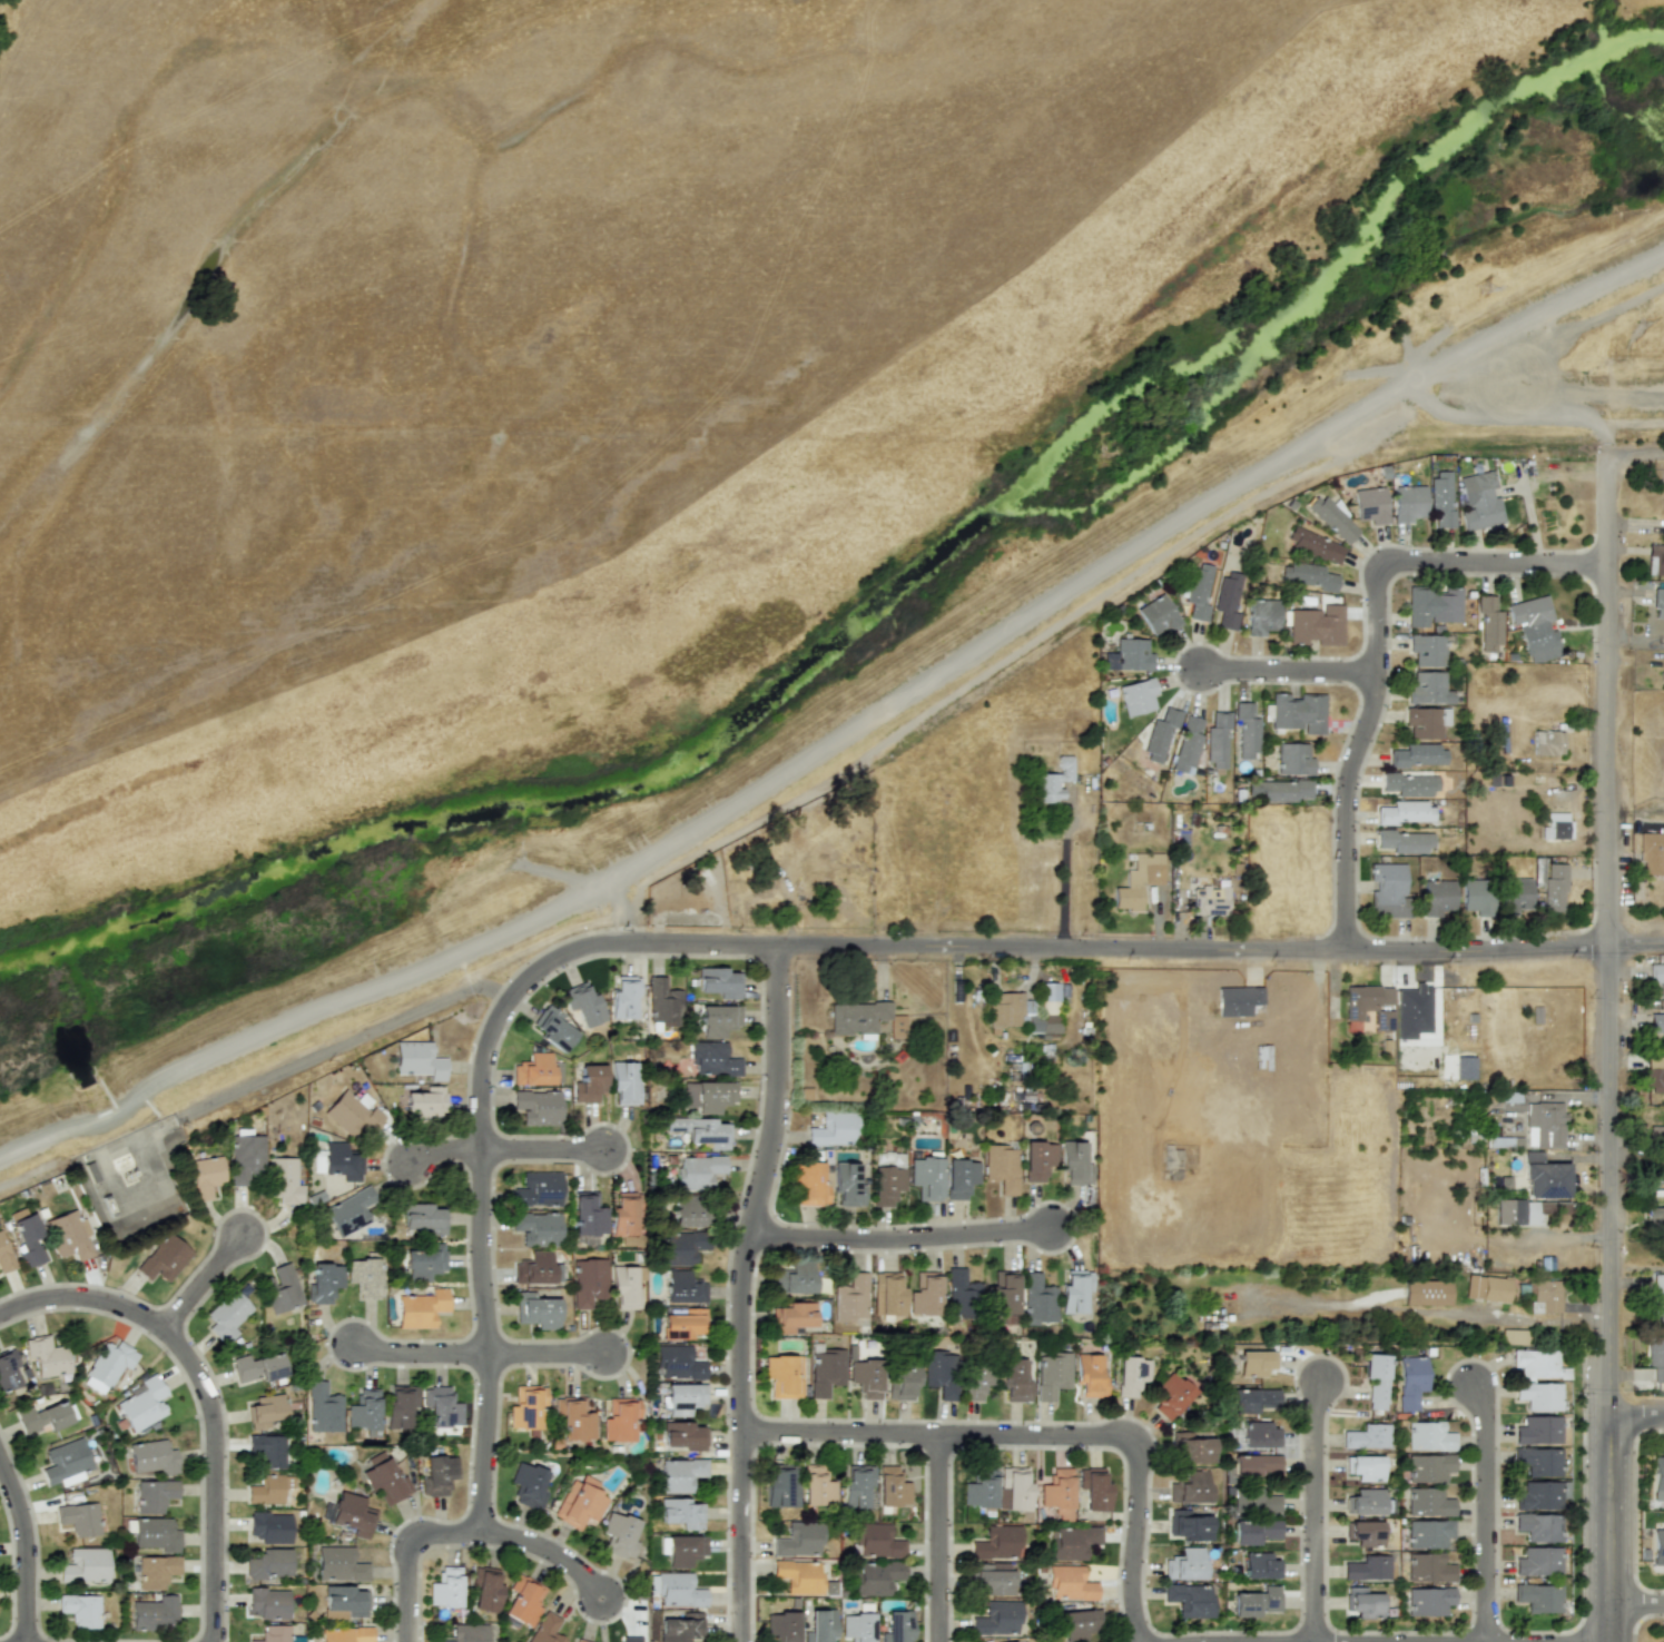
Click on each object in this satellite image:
crop: (1628, 201)
power tower: (1484, 288)
road: (1512, 415)
road: (1636, 448)
building: (1440, 499)
building: (1478, 502)
building: (1408, 503)
building: (1371, 505)
road: (1608, 505)
building: (1332, 518)
building: (1315, 544)
building: (1655, 560)
building: (1308, 576)
building: (1199, 592)
building: (1228, 600)
building: (1658, 603)
building: (1432, 606)
building: (1158, 614)
building: (1262, 616)
building: (1489, 624)
building: (1317, 625)
building: (1534, 627)
building: (1663, 635)
road: (1377, 642)
building: (1426, 650)
building: (1129, 655)
road: (1288, 672)
building: (1428, 689)
building: (1138, 696)
building: (1296, 712)
building: (1426, 722)
building: (1247, 731)
road: (844, 732)
building: (1160, 734)
building: (1218, 740)
building: (1547, 742)
building: (1188, 745)
building: (1417, 755)
building: (1293, 759)
building: (1132, 777)
building: (1497, 780)
building: (1054, 781)
building: (1409, 784)
building: (1280, 790)
building: (1406, 812)
building: (1556, 825)
building: (1405, 841)
building: (1651, 851)
road: (1062, 873)
building: (1139, 880)
building: (1554, 888)
building: (1388, 890)
building: (1515, 894)
building: (1437, 897)
building: (1476, 897)
building: (1209, 901)
road: (806, 946)
building: (1656, 976)
building: (719, 981)
road: (1605, 988)
building: (626, 998)
building: (1240, 1000)
building: (662, 1002)
building: (583, 1003)
building: (1370, 1005)
building: (1026, 1009)
building: (1412, 1011)
building: (864, 1018)
building: (719, 1020)
building: (1657, 1025)
building: (553, 1028)
building: (1261, 1057)
road: (306, 1059)
building: (713, 1059)
building: (419, 1060)
building: (533, 1070)
building: (1654, 1074)
building: (624, 1082)
building: (589, 1084)
building: (708, 1096)
building: (425, 1104)
building: (538, 1107)
building: (1544, 1125)
building: (833, 1129)
building: (701, 1131)
building: (1656, 1134)
road: (504, 1153)
building: (245, 1157)
building: (1037, 1160)
building: (341, 1161)
building: (1074, 1163)
building: (1001, 1167)
building: (697, 1171)
building: (205, 1176)
building: (925, 1177)
building: (1544, 1177)
building: (959, 1178)
building: (284, 1180)
building: (808, 1183)
building: (847, 1185)
building: (886, 1185)
building: (538, 1189)
building: (689, 1210)
building: (349, 1211)
building: (1519, 1211)
building: (588, 1215)
building: (623, 1215)
building: (1655, 1217)
building: (425, 1218)
building: (538, 1228)
building: (70, 1235)
road: (898, 1239)
building: (29, 1240)
building: (682, 1247)
building: (4, 1255)
building: (164, 1258)
building: (426, 1260)
building: (536, 1269)
building: (365, 1277)
building: (795, 1277)
building: (324, 1282)
building: (589, 1282)
road: (200, 1286)
building: (624, 1287)
building: (683, 1287)
building: (280, 1288)
building: (1487, 1288)
road: (740, 1292)
building: (958, 1292)
building: (1074, 1292)
building: (1426, 1293)
building: (886, 1294)
building: (924, 1294)
building: (1001, 1294)
building: (1545, 1296)
building: (850, 1298)
building: (1036, 1300)
building: (421, 1308)
building: (536, 1310)
building: (227, 1315)
building: (791, 1317)
building: (683, 1324)
building: (1513, 1336)
road: (420, 1355)
building: (47, 1356)
road: (544, 1356)
building: (1655, 1356)
building: (678, 1363)
building: (1254, 1363)
building: (1537, 1364)
building: (108, 1366)
building: (258, 1367)
building: (825, 1369)
building: (8, 1371)
building: (939, 1372)
building: (1052, 1374)
building: (782, 1375)
building: (1090, 1375)
building: (1131, 1375)
building: (866, 1377)
building: (1376, 1379)
building: (1410, 1381)
building: (903, 1382)
building: (975, 1382)
building: (1014, 1382)
road: (204, 1395)
building: (1171, 1395)
building: (1538, 1395)
building: (685, 1398)
building: (1251, 1399)
building: (142, 1404)
building: (401, 1406)
building: (525, 1406)
building: (441, 1407)
building: (323, 1408)
building: (265, 1411)
building: (364, 1411)
road: (1635, 1415)
building: (46, 1416)
building: (573, 1418)
building: (620, 1420)
building: (1538, 1430)
building: (682, 1435)
building: (1259, 1435)
building: (1428, 1436)
road: (1042, 1437)
building: (1366, 1437)
building: (1192, 1447)
building: (267, 1450)
building: (154, 1457)
building: (66, 1461)
building: (1538, 1461)
building: (1256, 1466)
building: (1363, 1467)
building: (1428, 1468)
building: (437, 1474)
building: (679, 1474)
building: (1657, 1477)
building: (385, 1480)
building: (529, 1485)
building: (780, 1486)
building: (816, 1486)
building: (855, 1486)
building: (892, 1486)
building: (1190, 1487)
building: (269, 1488)
building: (979, 1488)
building: (1014, 1488)
building: (1093, 1488)
building: (1057, 1493)
building: (155, 1495)
building: (1539, 1495)
building: (1253, 1501)
building: (1365, 1502)
building: (1427, 1502)
building: (579, 1503)
road: (1313, 1511)
building: (681, 1513)
building: (352, 1514)
road: (1486, 1514)
building: (79, 1519)
building: (1188, 1525)
building: (270, 1526)
building: (1538, 1526)
road: (1607, 1529)
building: (1253, 1531)
building: (1363, 1533)
building: (1428, 1533)
building: (156, 1534)
building: (620, 1535)
road: (937, 1539)
building: (798, 1540)
building: (876, 1541)
building: (1071, 1542)
building: (996, 1543)
building: (1657, 1546)
building: (683, 1550)
road: (406, 1551)
road: (23, 1553)
road: (548, 1553)
building: (1538, 1562)
building: (269, 1563)
building: (339, 1564)
building: (1184, 1564)
building: (85, 1565)
building: (1259, 1565)
building: (1367, 1567)
building: (1428, 1567)
building: (156, 1571)
building: (798, 1575)
building: (875, 1577)
building: (992, 1579)
building: (1069, 1583)
building: (445, 1587)
building: (485, 1589)
building: (679, 1590)
building: (1538, 1598)
building: (523, 1600)
building: (1189, 1600)
building: (1428, 1601)
building: (345, 1602)
building: (1256, 1602)
building: (268, 1603)
building: (1362, 1603)
road: (1636, 1603)
building: (80, 1609)
building: (154, 1613)
building: (996, 1619)
building: (1077, 1624)
building: (782, 1625)
building: (819, 1625)
building: (857, 1626)
building: (896, 1626)
building: (681, 1628)
building: (545, 1629)
building: (274, 1633)
building: (469, 1633)
building: (346, 1634)
building: (630, 1639)
building: (580, 1641)

